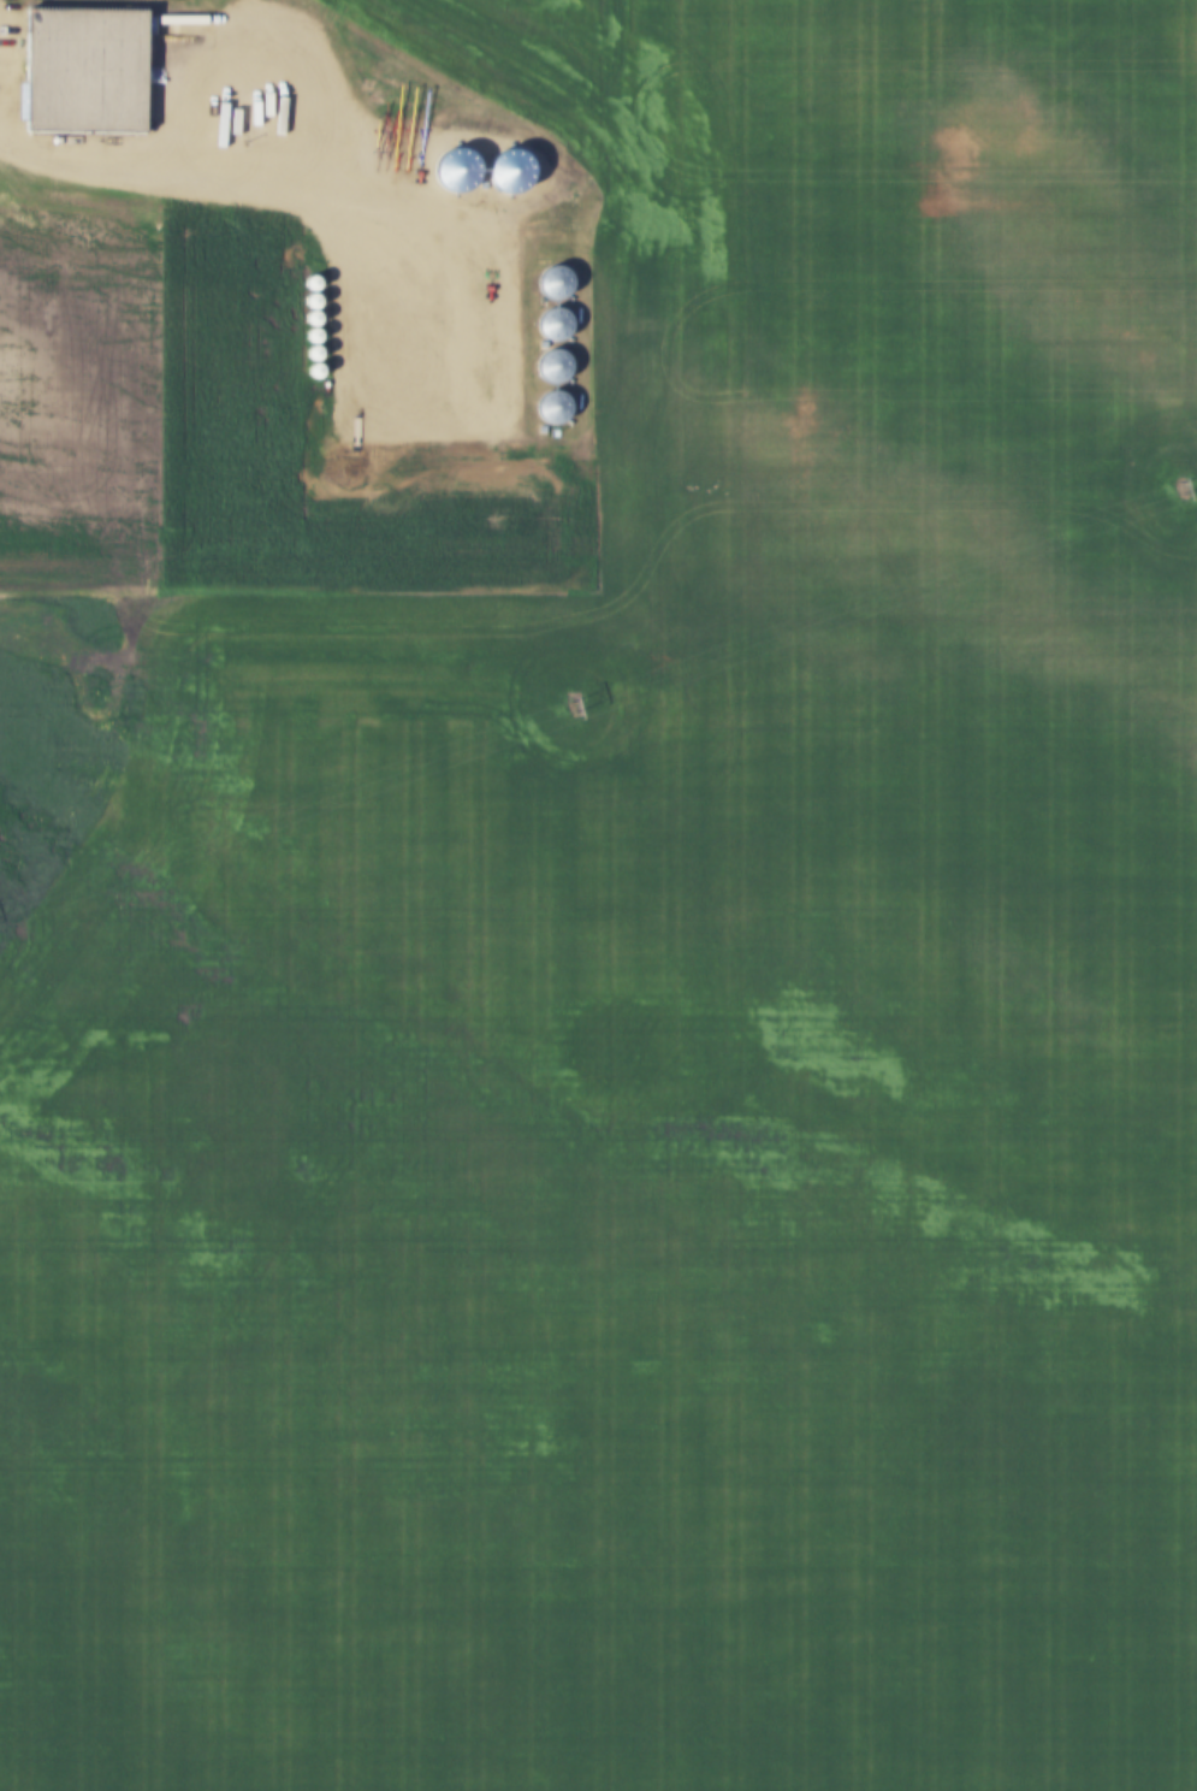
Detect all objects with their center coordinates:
building: (81, 63)
building: (451, 170)
silo: (451, 170)
building: (504, 170)
silo: (504, 170)
building: (478, 184)
building: (550, 283)
silo: (550, 283)
building: (550, 324)
silo: (550, 324)
building: (549, 366)
silo: (549, 366)
building: (549, 407)
silo: (549, 407)
building: (539, 430)

